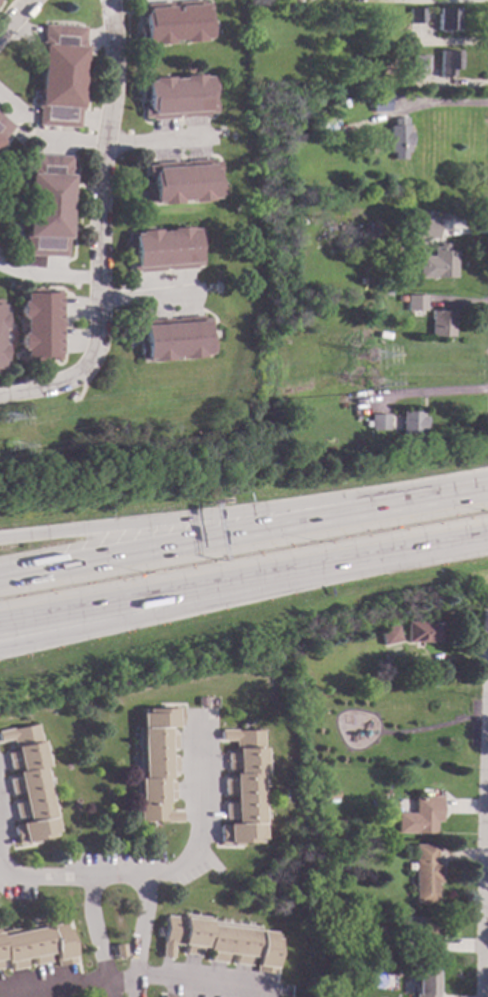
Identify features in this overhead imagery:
road: (156, 0)
road: (137, 5)
road: (7, 8)
building: (415, 15)
road: (16, 18)
building: (445, 19)
building: (174, 21)
road: (23, 33)
road: (100, 35)
building: (420, 62)
building: (448, 62)
building: (60, 75)
building: (177, 97)
building: (379, 103)
road: (441, 103)
road: (8, 107)
road: (27, 116)
road: (95, 120)
building: (4, 127)
building: (398, 138)
road: (16, 141)
road: (70, 141)
road: (159, 142)
road: (1, 150)
road: (2, 150)
building: (183, 181)
building: (46, 205)
building: (373, 228)
building: (424, 229)
road: (100, 231)
road: (8, 244)
building: (164, 249)
road: (21, 257)
road: (44, 265)
building: (435, 265)
road: (49, 275)
road: (148, 298)
building: (400, 298)
building: (415, 302)
road: (80, 309)
building: (1, 320)
building: (441, 323)
building: (40, 325)
road: (65, 327)
building: (175, 338)
road: (79, 340)
building: (1, 352)
power tower: (379, 370)
road: (48, 375)
road: (435, 393)
power tower: (379, 395)
building: (379, 421)
building: (411, 422)
power tower: (7, 428)
power tower: (13, 451)
road: (418, 499)
road: (174, 526)
road: (174, 543)
road: (243, 579)
road: (244, 593)
building: (424, 631)
building: (389, 634)
building: (205, 701)
road: (336, 723)
park: (391, 726)
road: (435, 726)
building: (158, 763)
building: (31, 784)
building: (244, 788)
building: (332, 793)
building: (422, 816)
road: (203, 818)
road: (115, 871)
road: (484, 872)
building: (427, 873)
road: (40, 874)
road: (486, 904)
building: (420, 931)
building: (361, 935)
building: (220, 941)
building: (35, 944)
building: (119, 951)
road: (132, 974)
building: (426, 982)
building: (169, 996)

